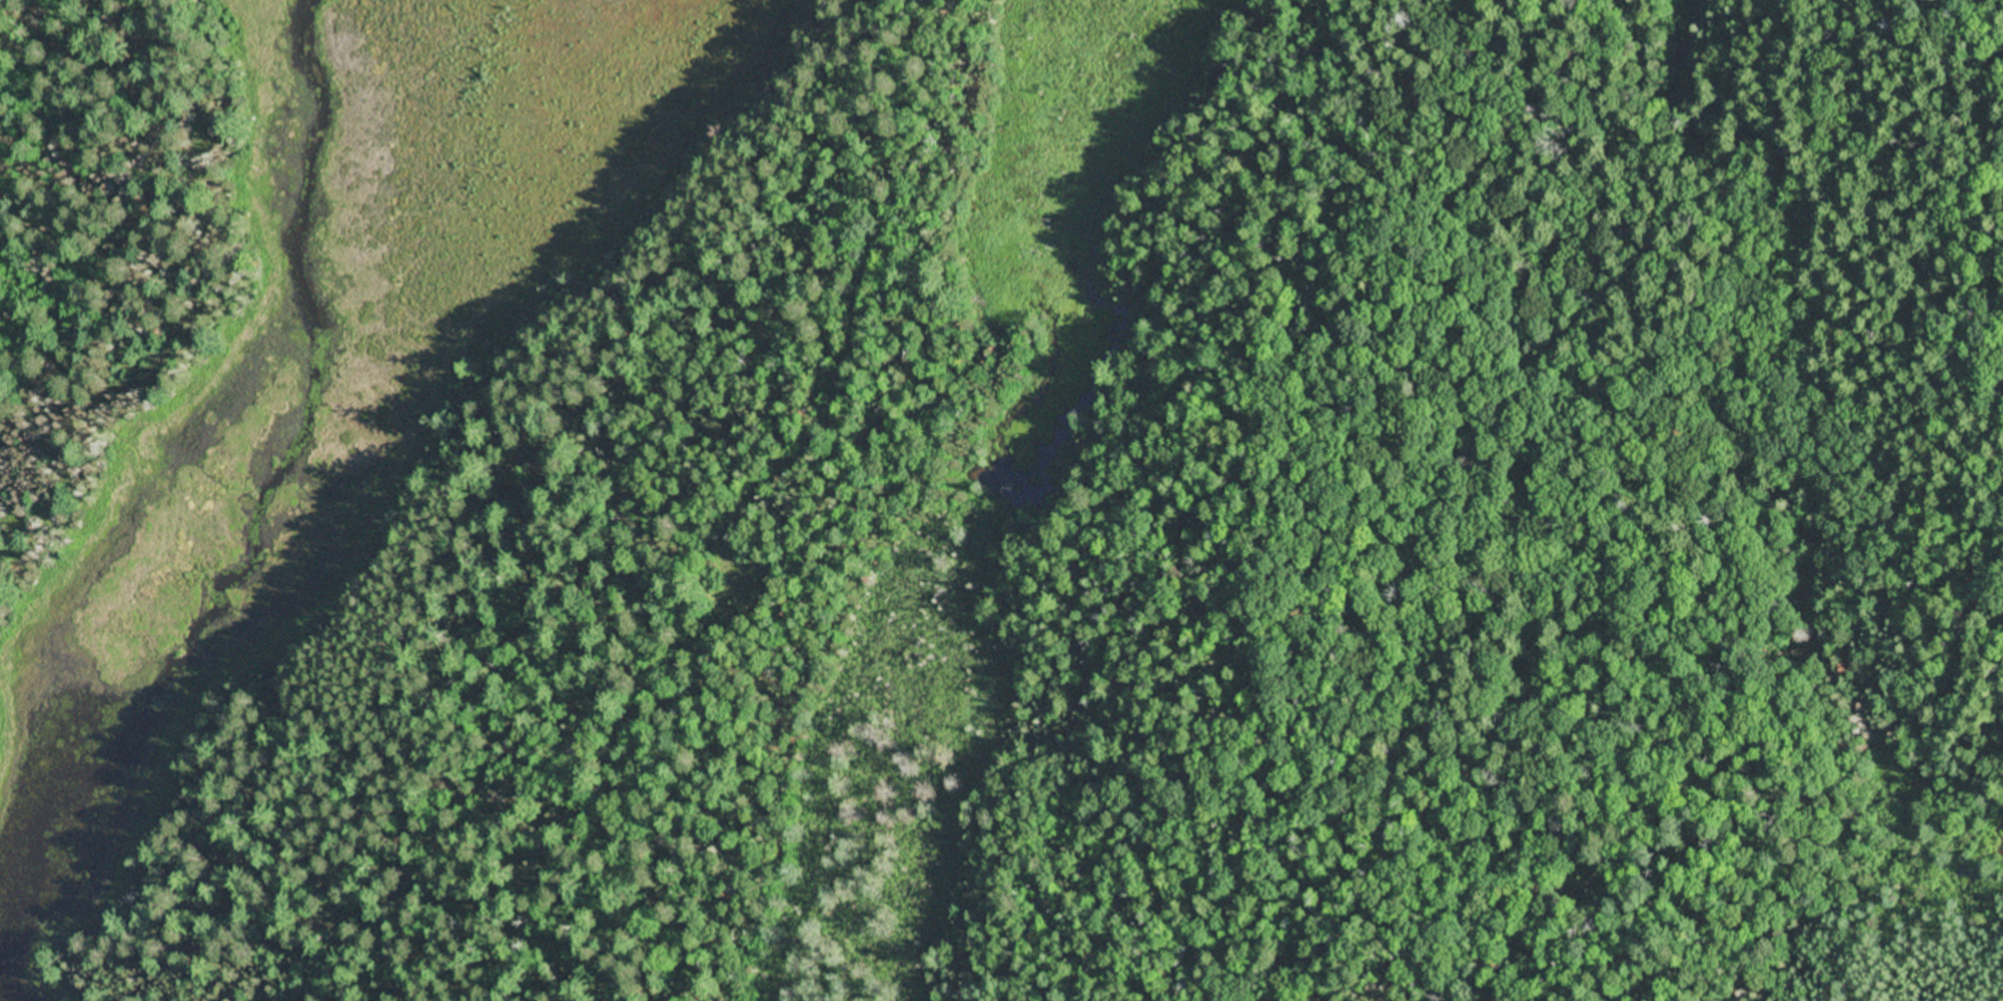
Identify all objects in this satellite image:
road: (1727, 324)

